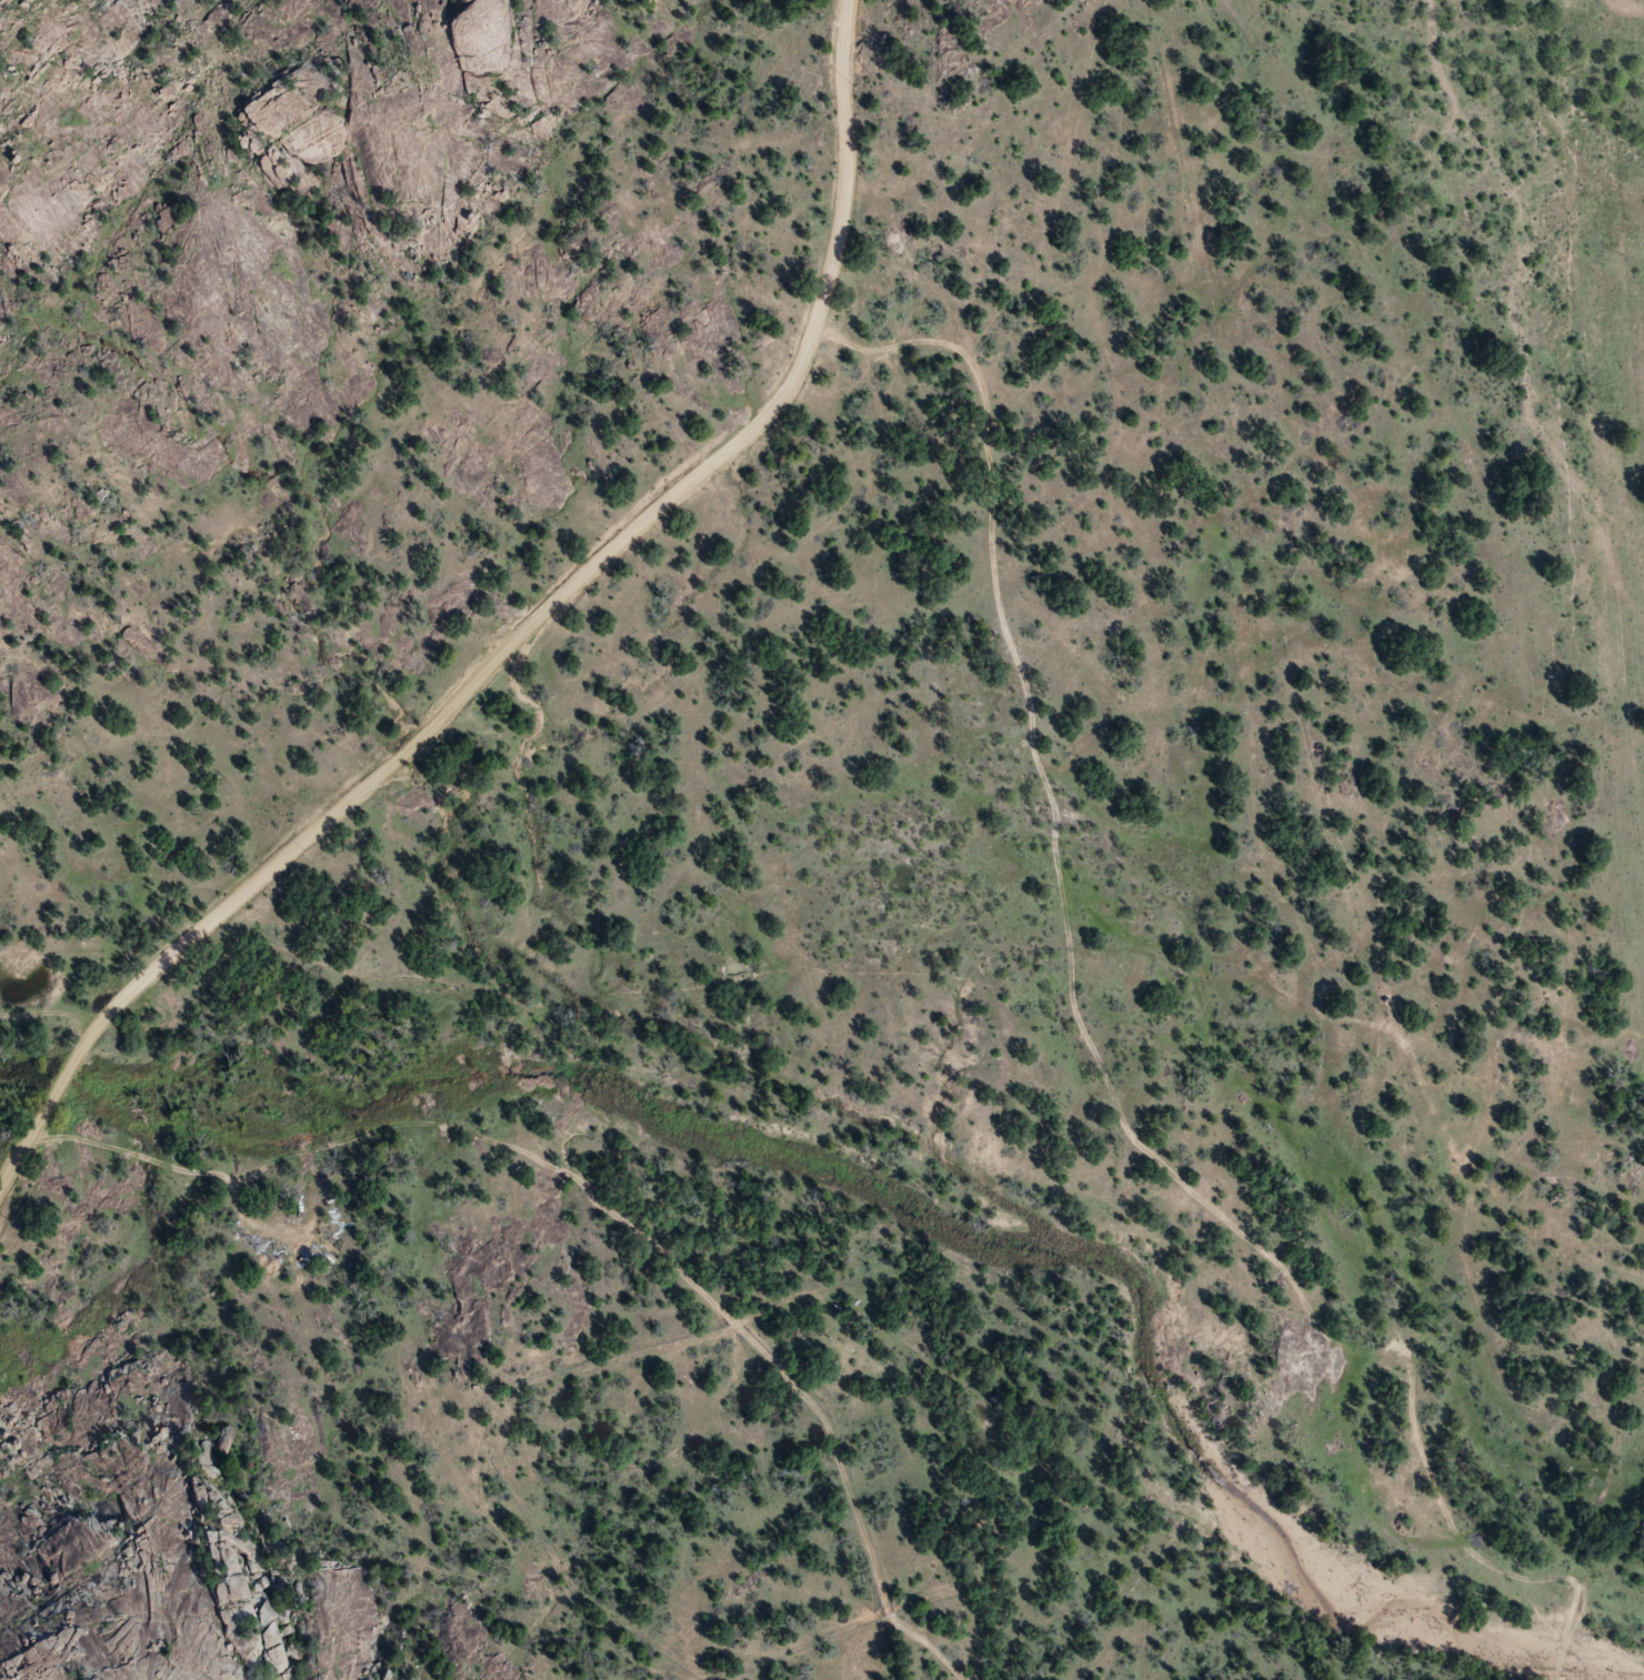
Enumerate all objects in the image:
road: (520, 640)

